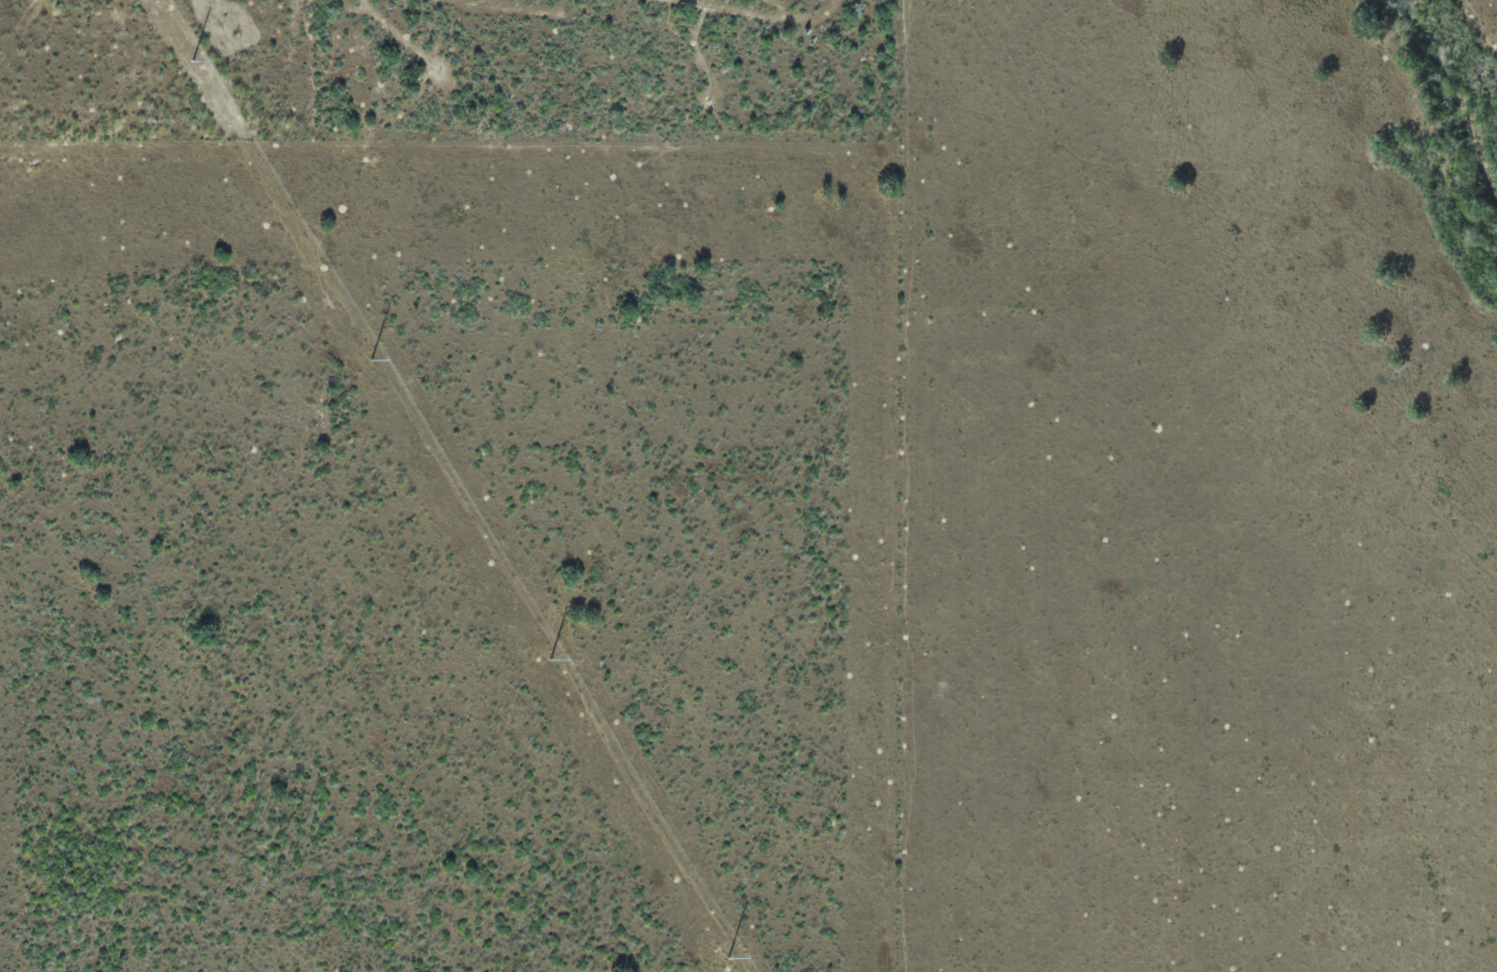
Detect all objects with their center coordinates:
power tower: (193, 60)
power tower: (371, 360)
power tower: (550, 660)
power tower: (727, 957)

